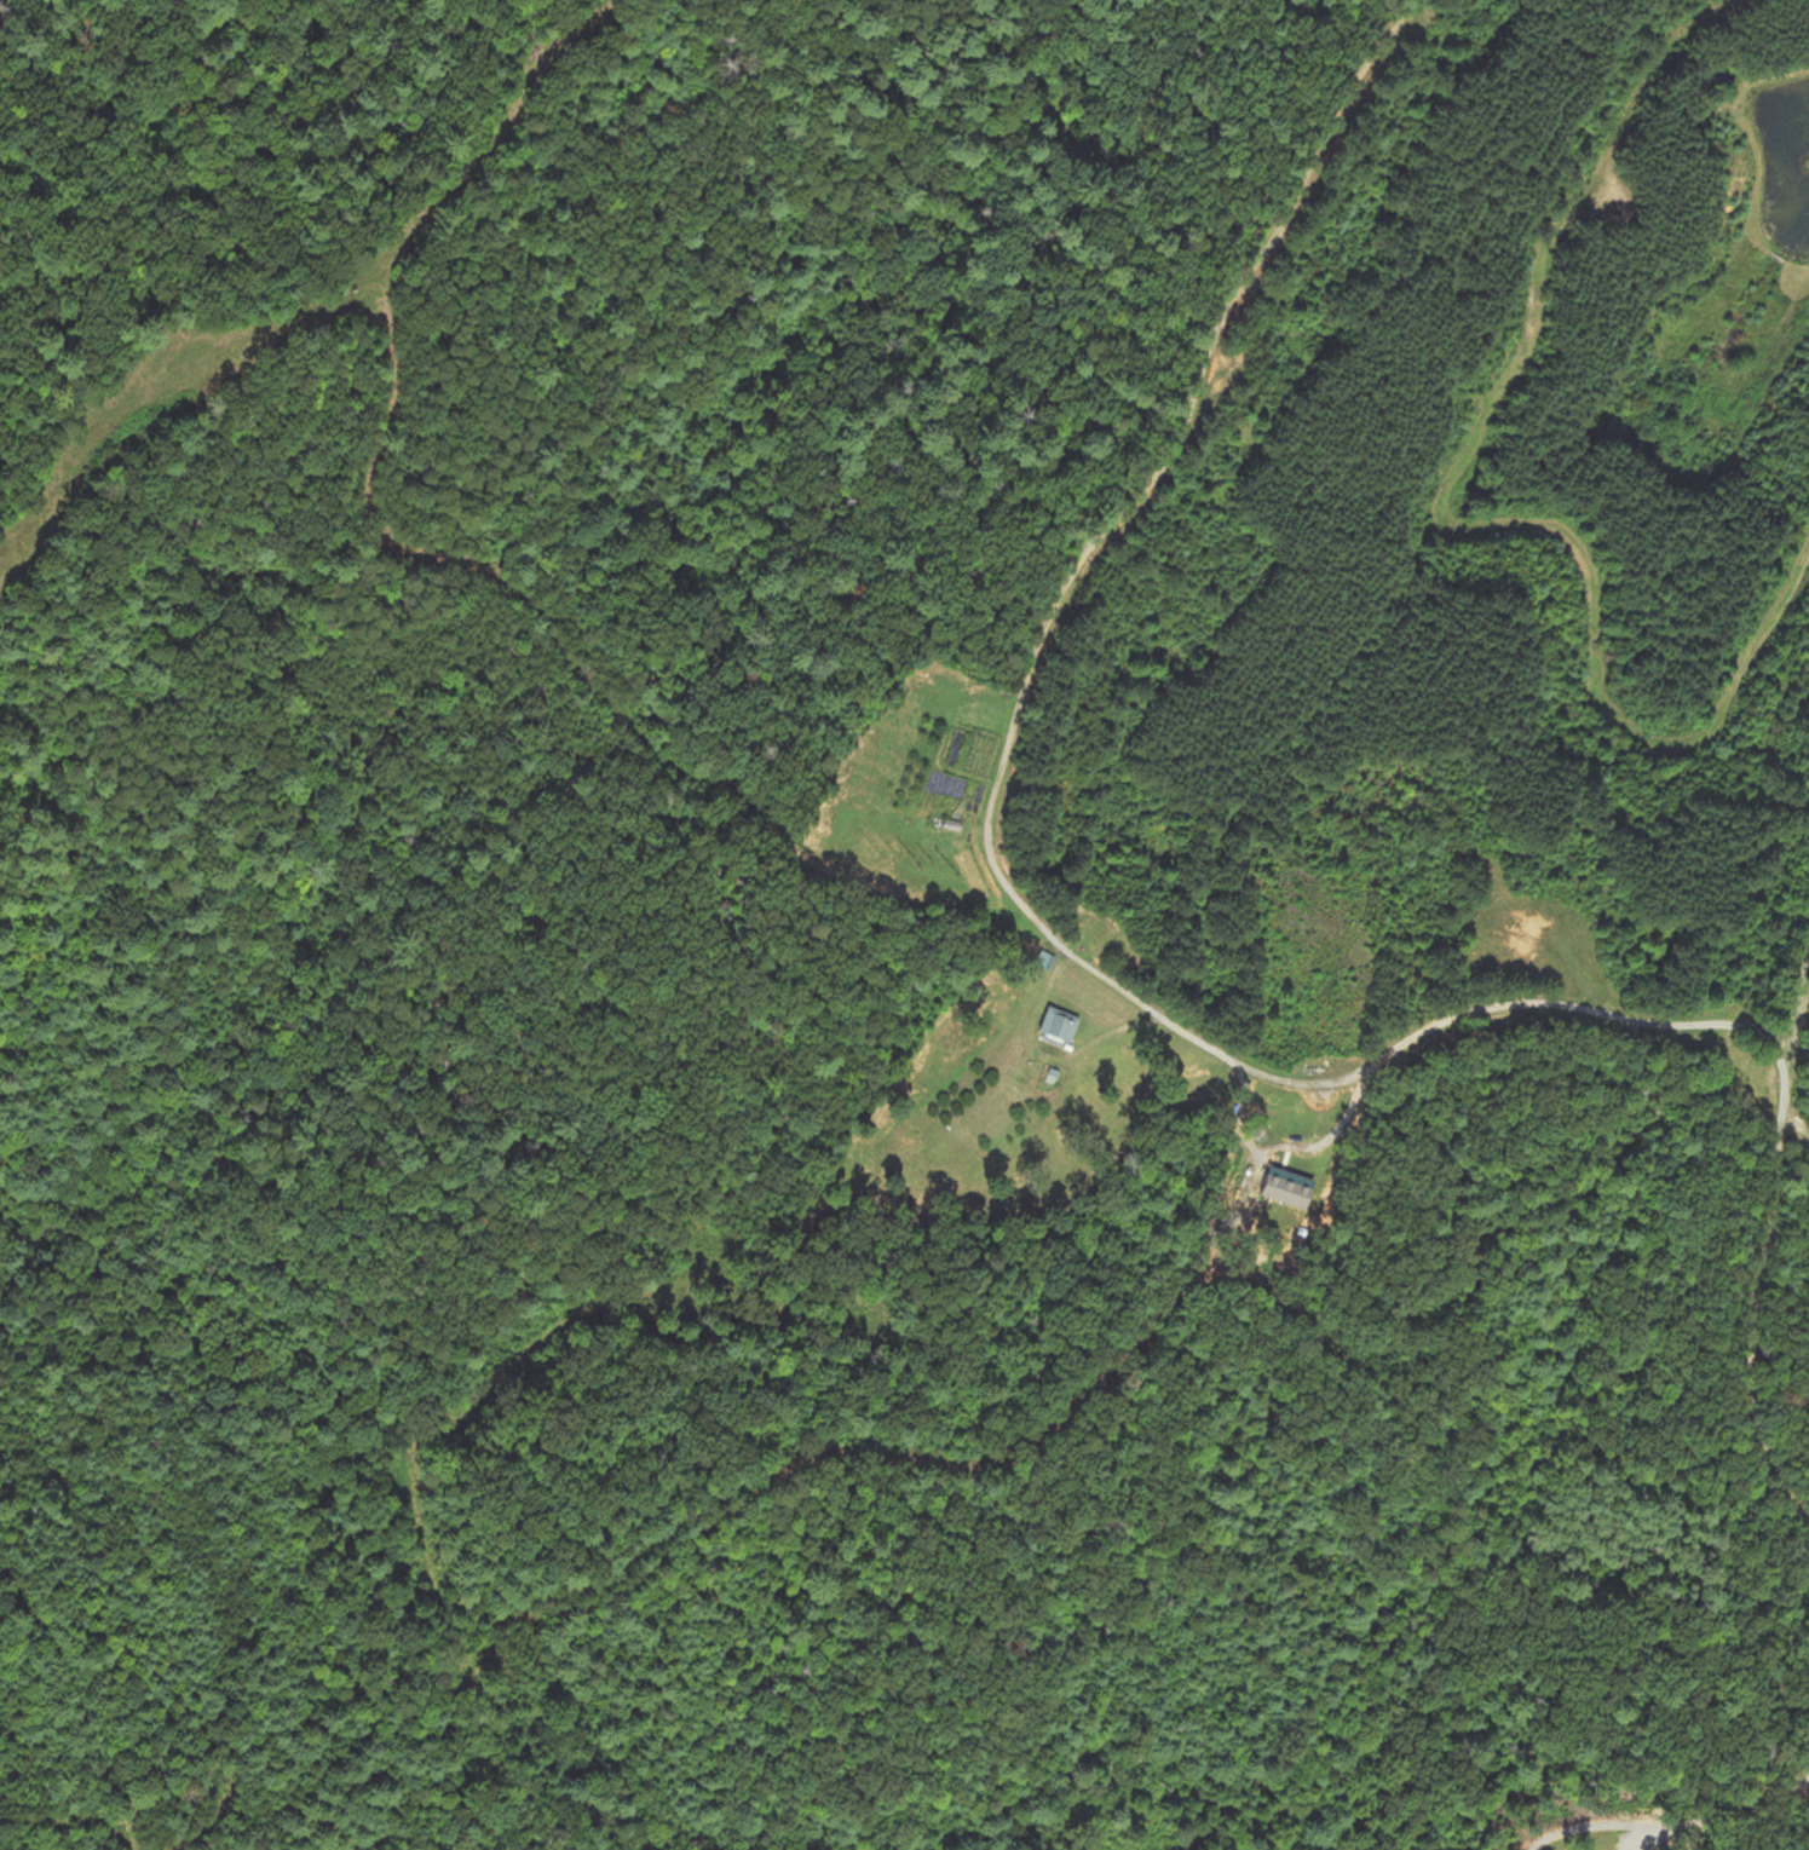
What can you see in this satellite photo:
road: (1142, 465)
road: (1031, 992)
road: (1698, 1012)
building: (1287, 1193)

